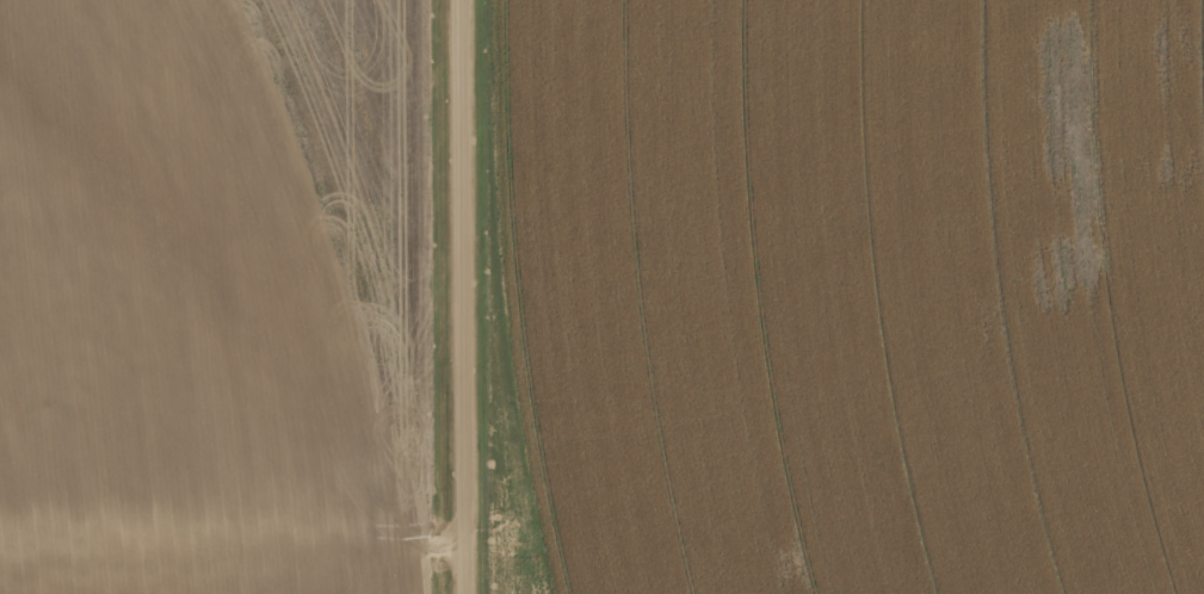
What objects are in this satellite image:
road: (462, 296)
road: (231, 561)

